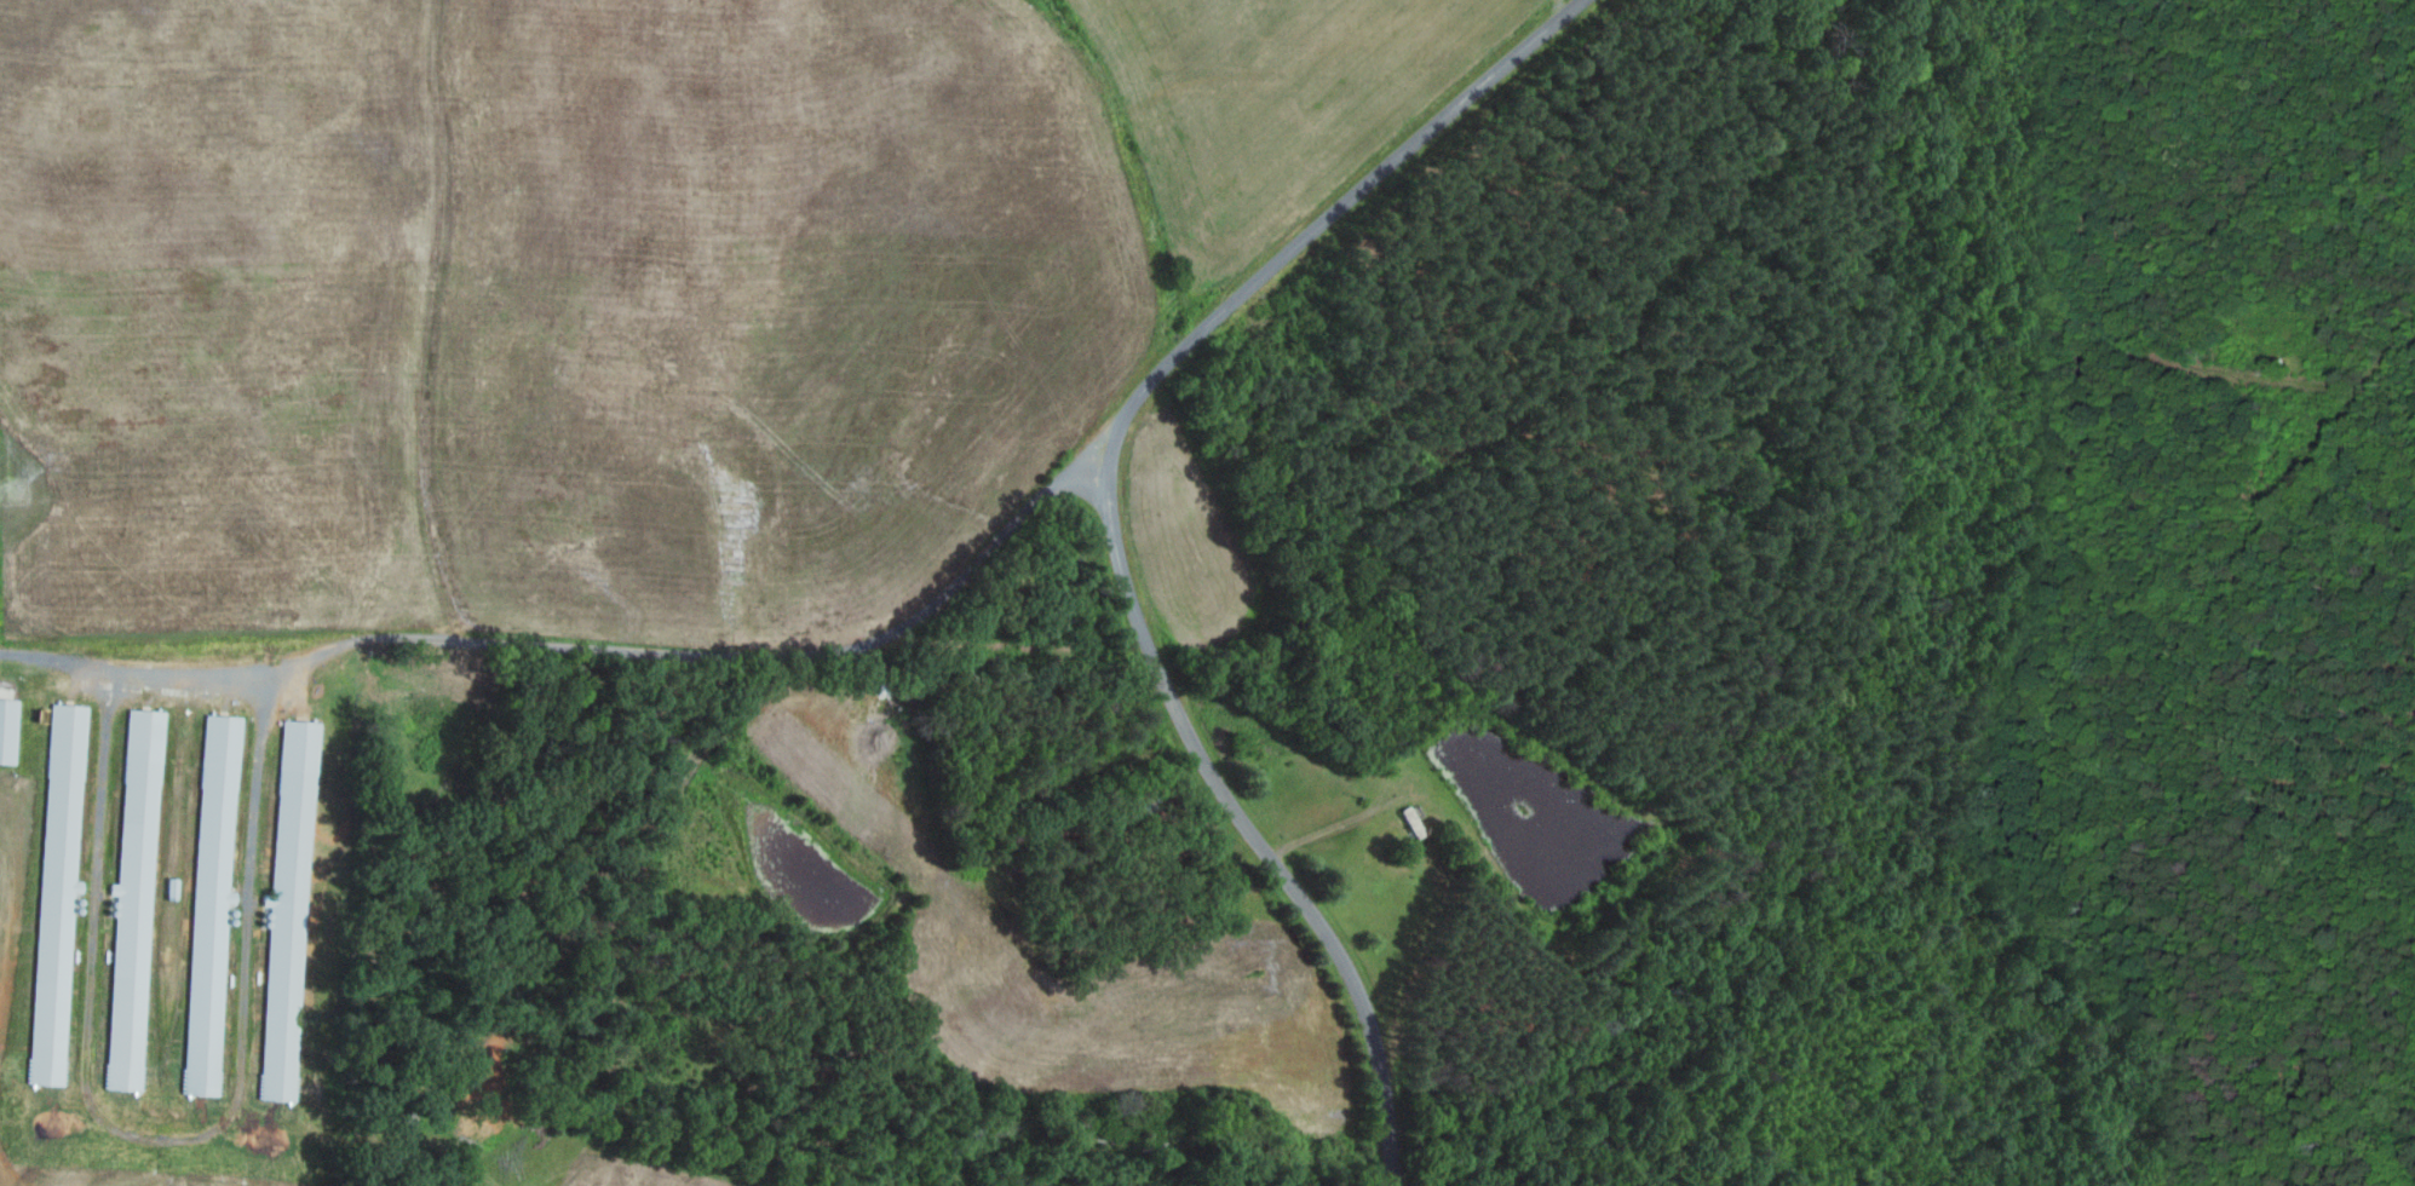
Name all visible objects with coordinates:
road: (1259, 296)
road: (587, 645)
building: (8, 729)
building: (58, 888)
building: (213, 899)
building: (136, 903)
building: (289, 911)
road: (1330, 915)

